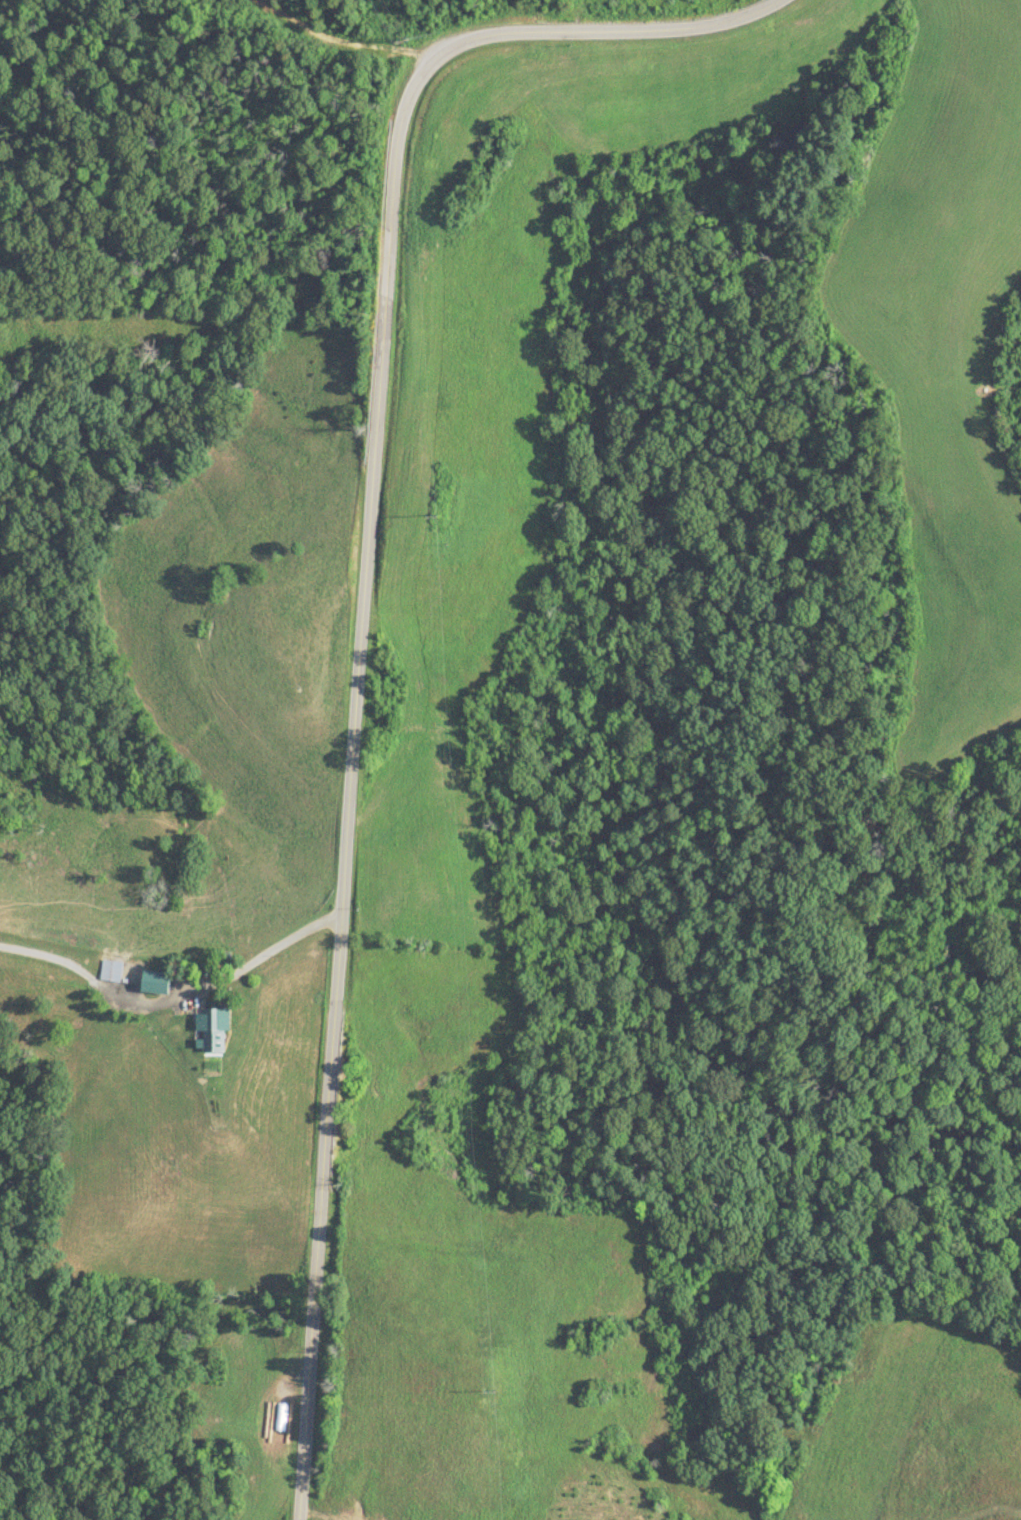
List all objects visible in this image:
road: (421, 631)
building: (85, 761)
road: (263, 961)
building: (114, 972)
building: (209, 1031)

